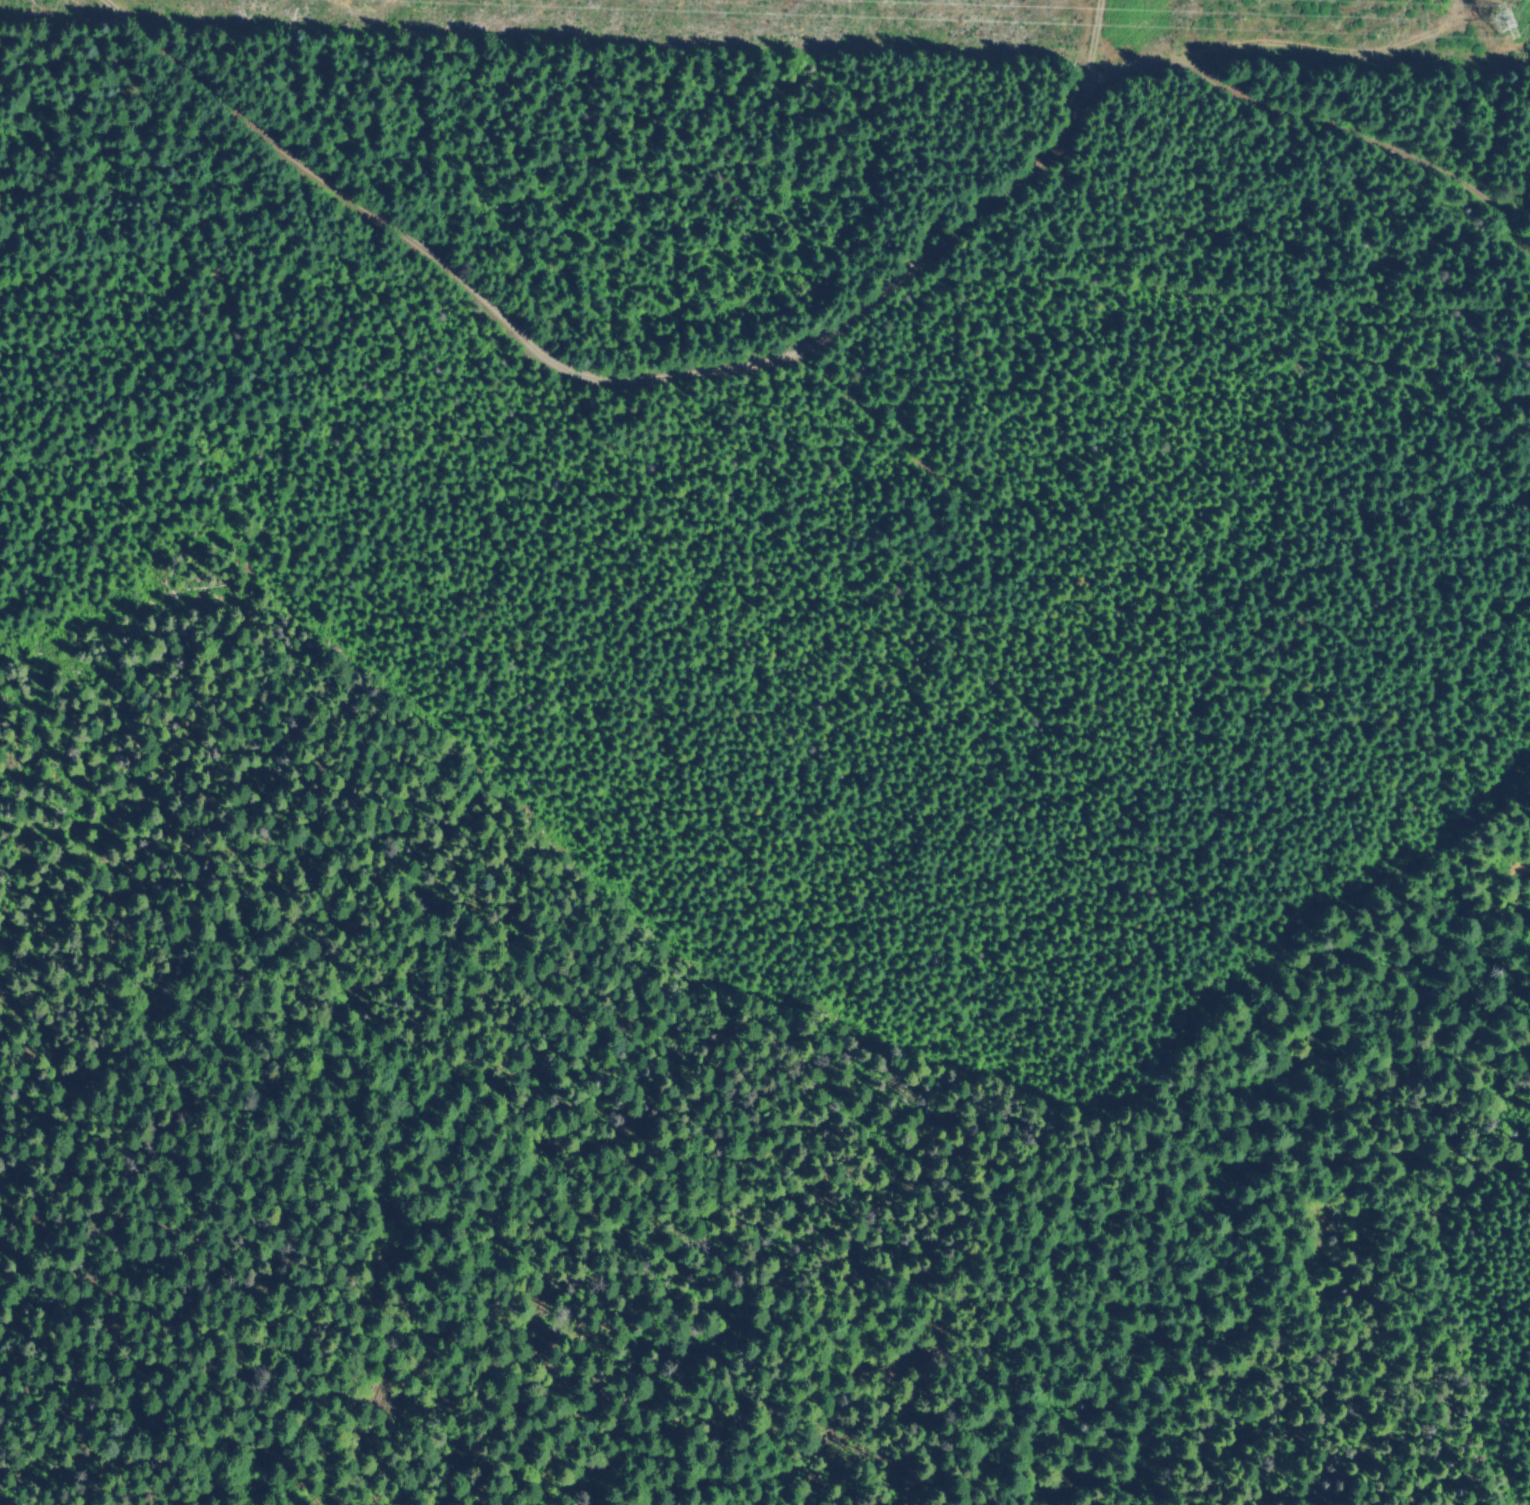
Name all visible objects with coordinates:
power tower: (1496, 25)
road: (837, 311)

